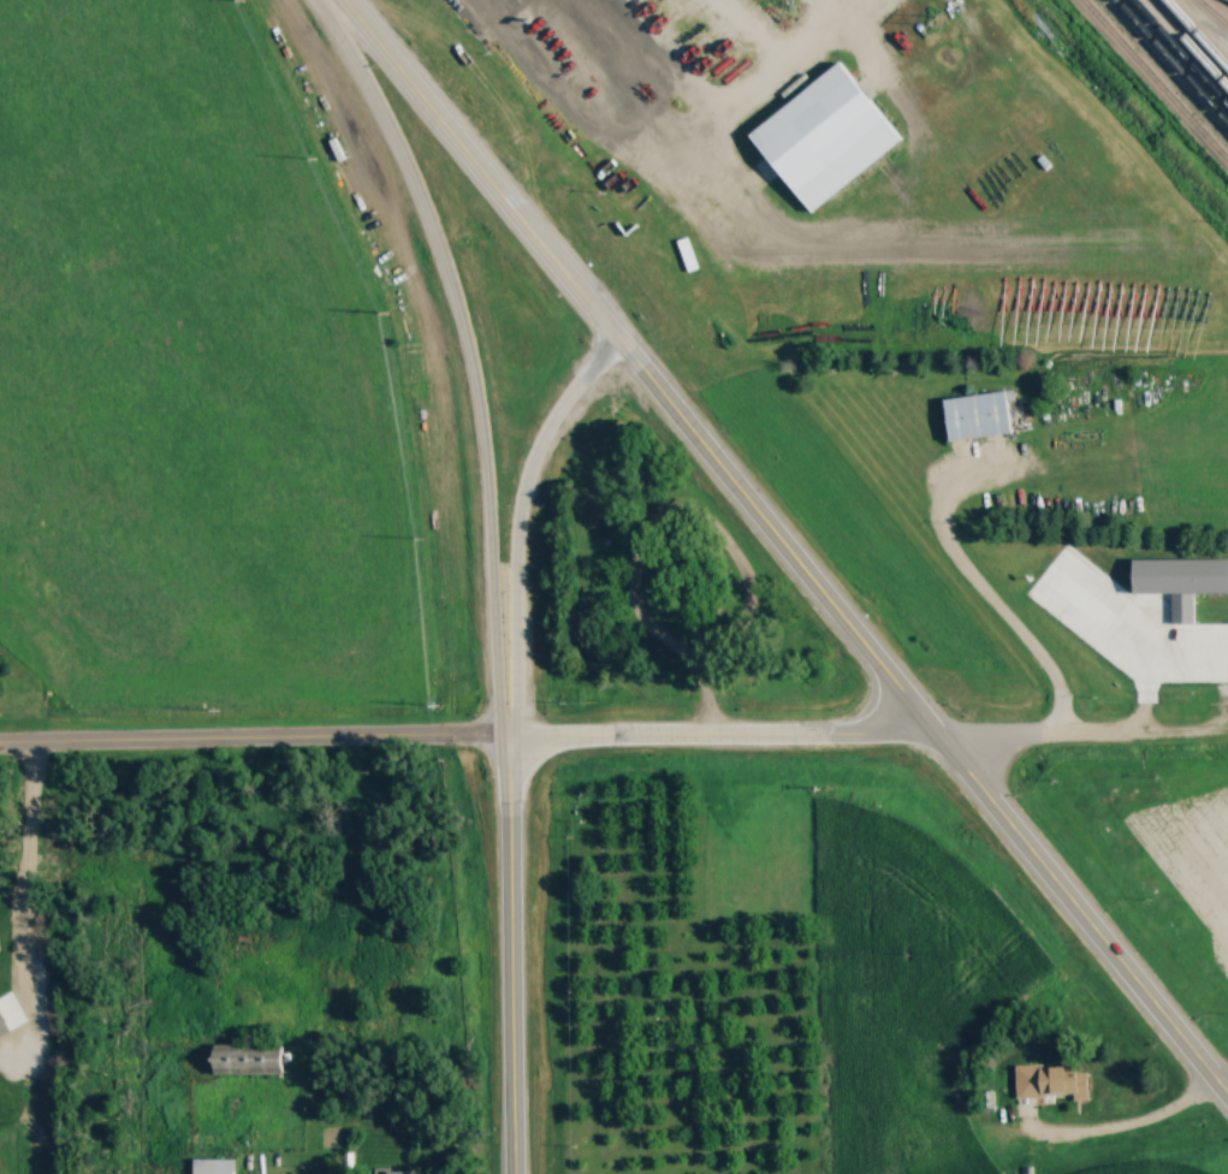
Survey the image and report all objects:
power tower: (938, 19)
railway: (1185, 53)
road: (663, 88)
road: (470, 173)
road: (461, 356)
building: (979, 415)
road: (511, 528)
building: (1180, 581)
road: (974, 588)
park: (662, 593)
road: (1183, 647)
road: (927, 719)
road: (1084, 733)
road: (722, 737)
road: (251, 743)
road: (508, 957)
building: (250, 1061)
building: (1050, 1084)
building: (986, 1102)
road: (1127, 1128)
building: (214, 1166)
building: (393, 1172)

